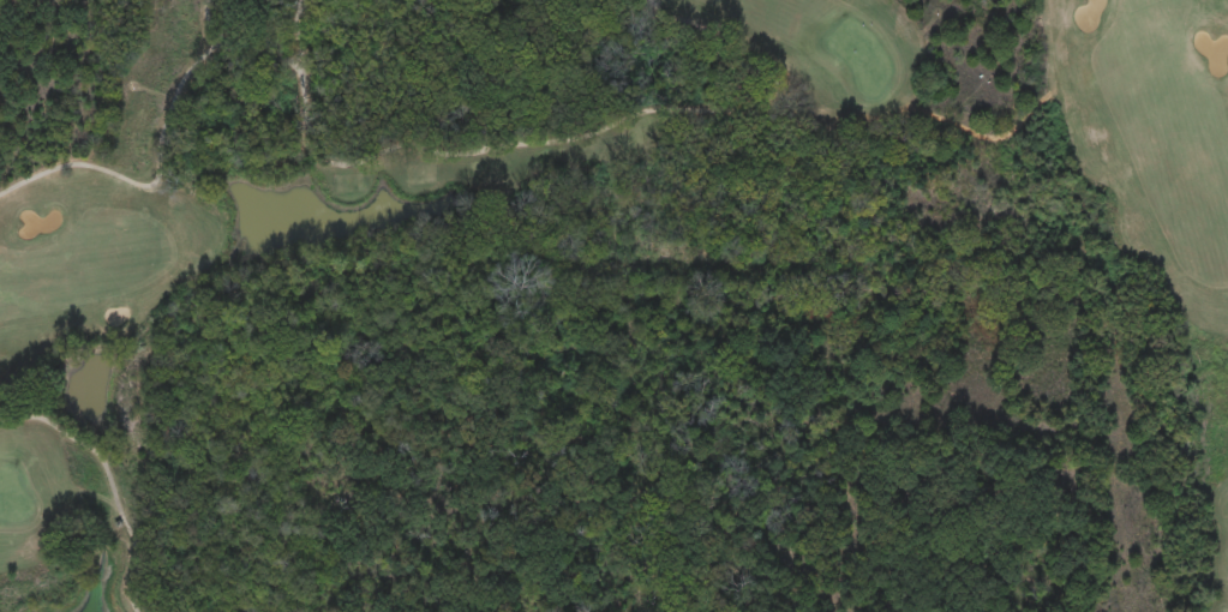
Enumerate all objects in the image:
park: (613, 306)

